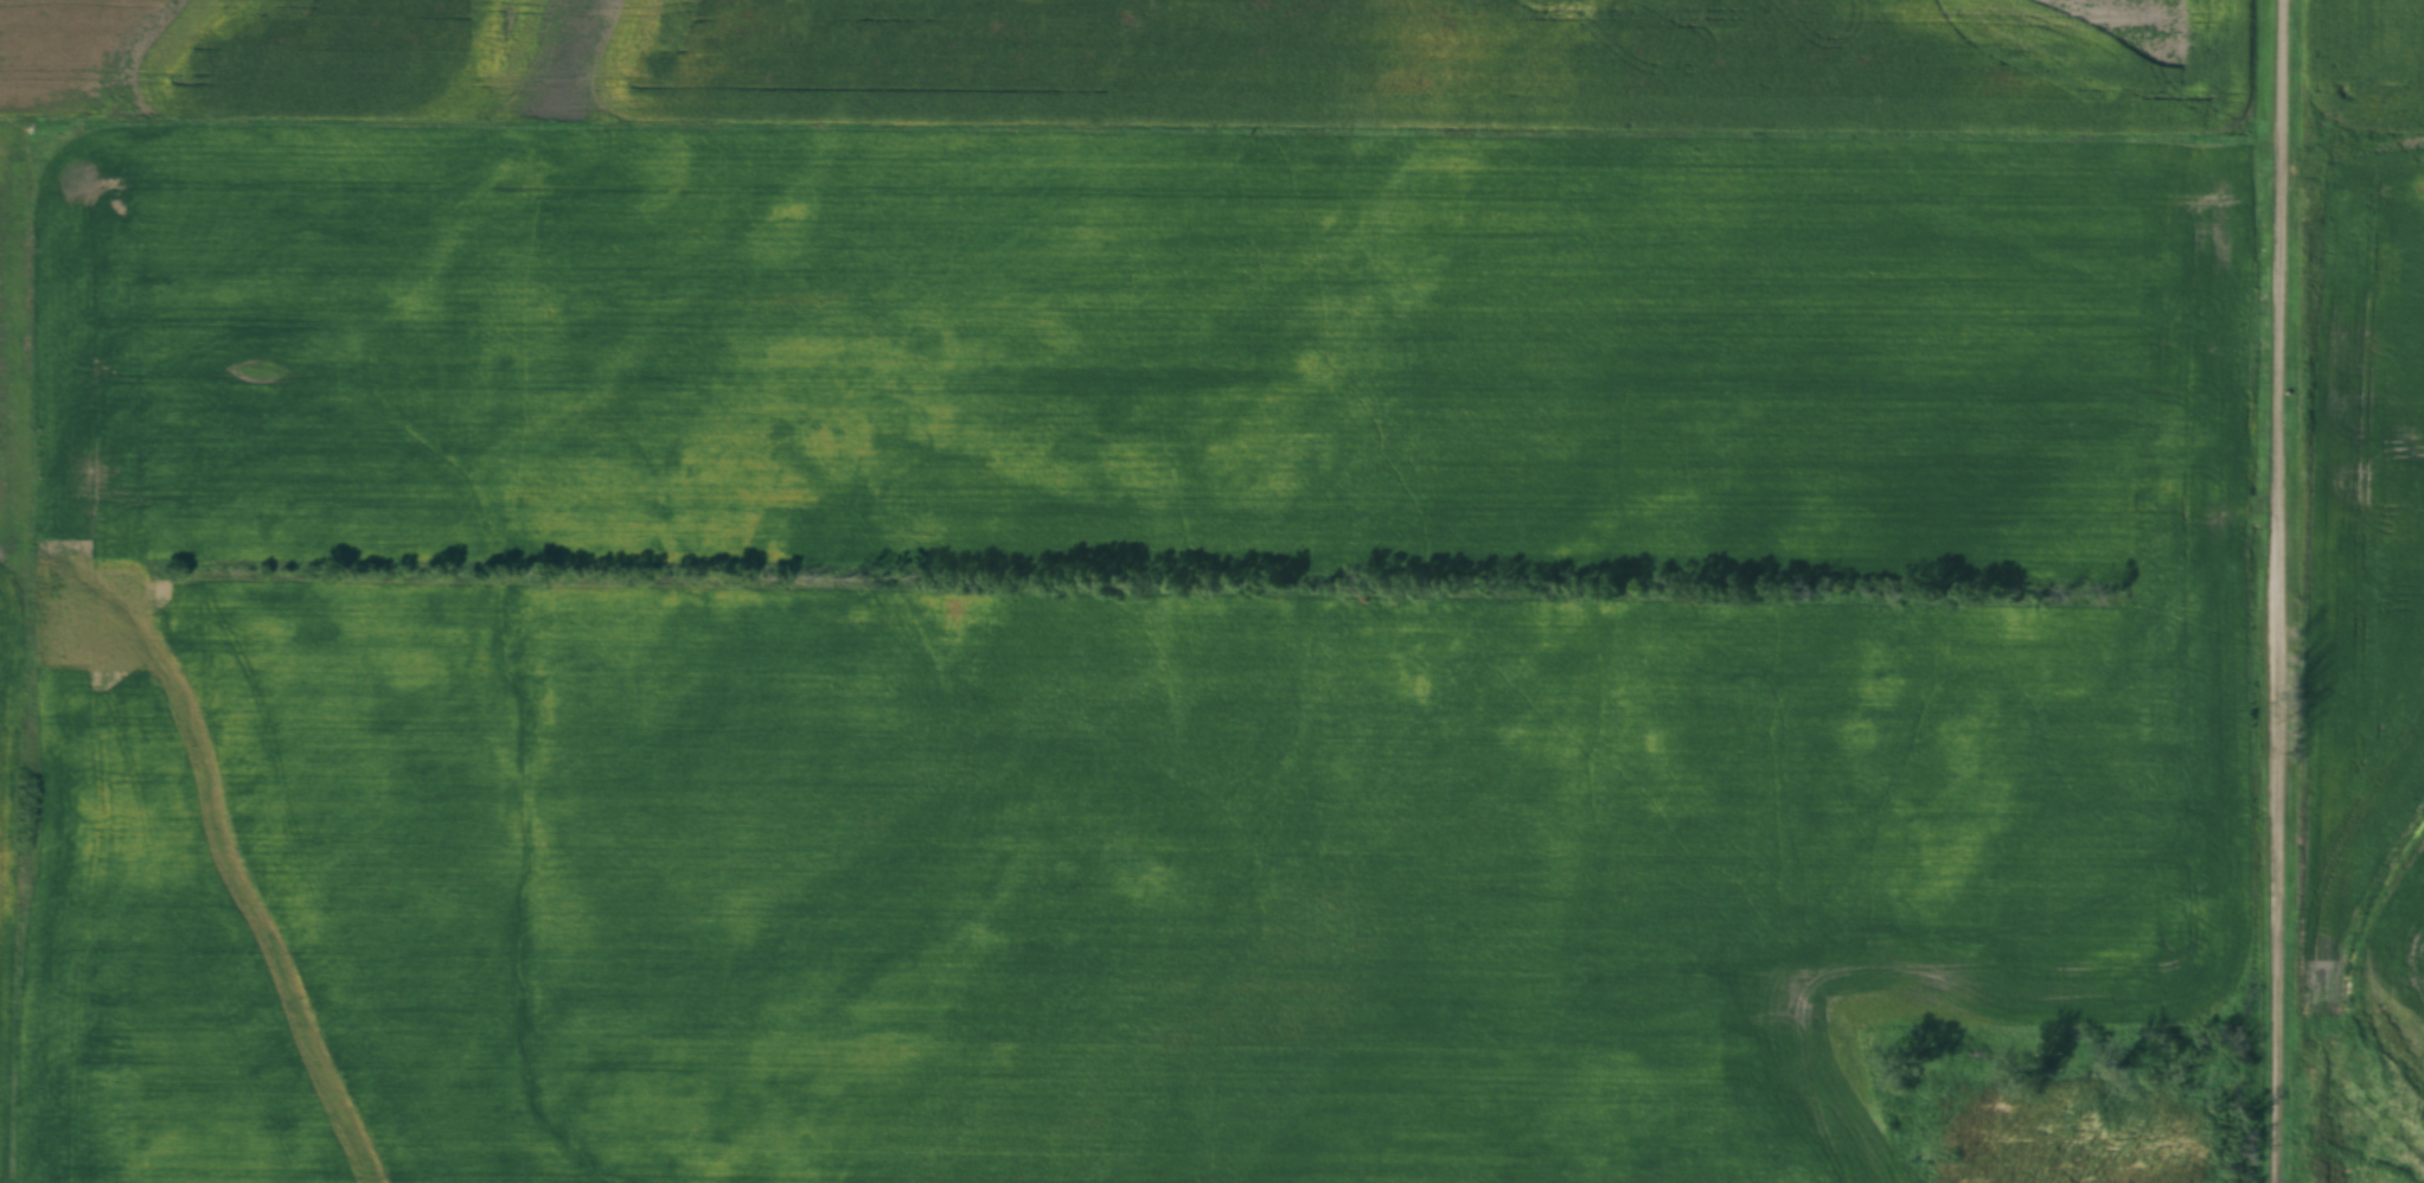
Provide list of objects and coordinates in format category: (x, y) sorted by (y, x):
road: (2275, 590)

